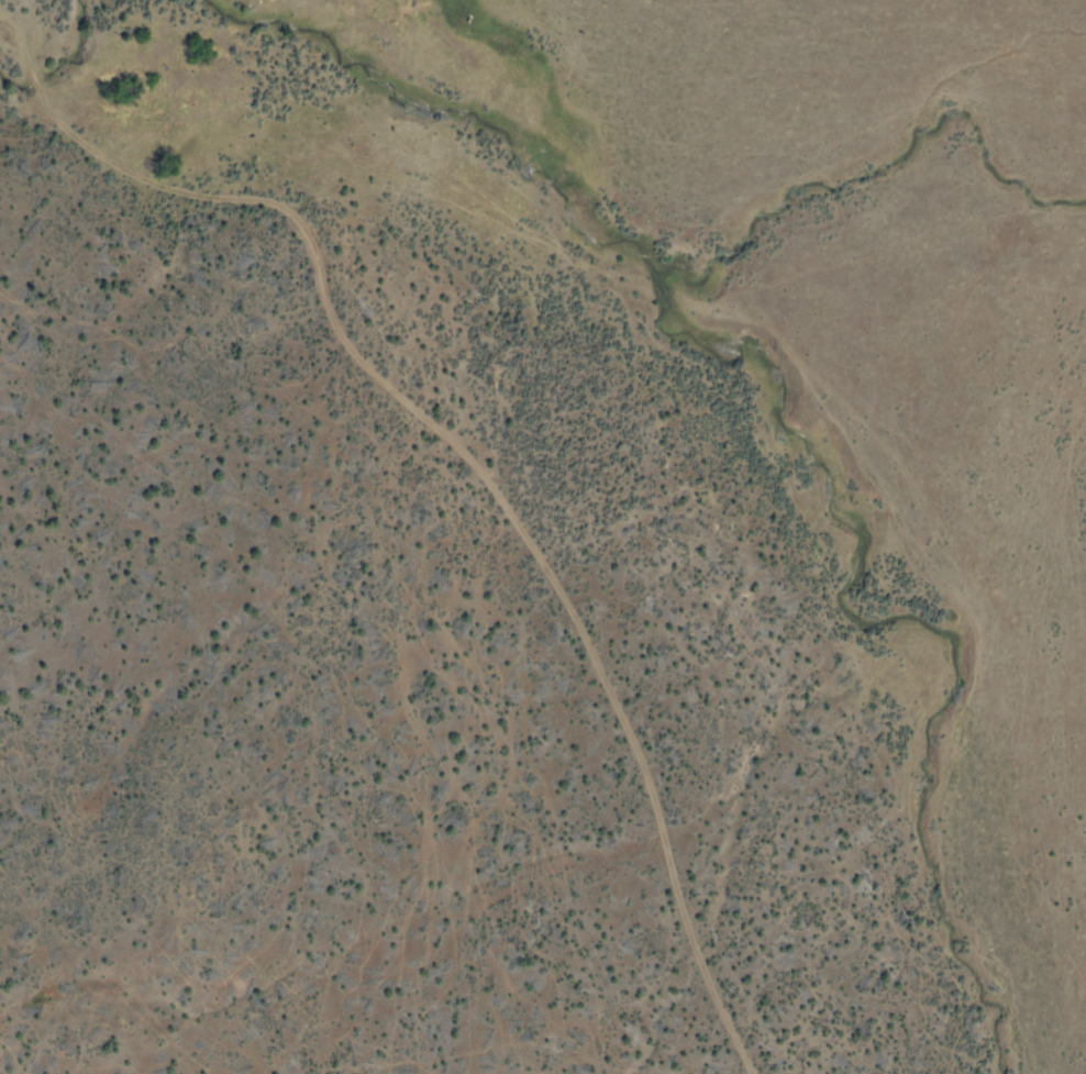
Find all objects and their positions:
road: (480, 477)

